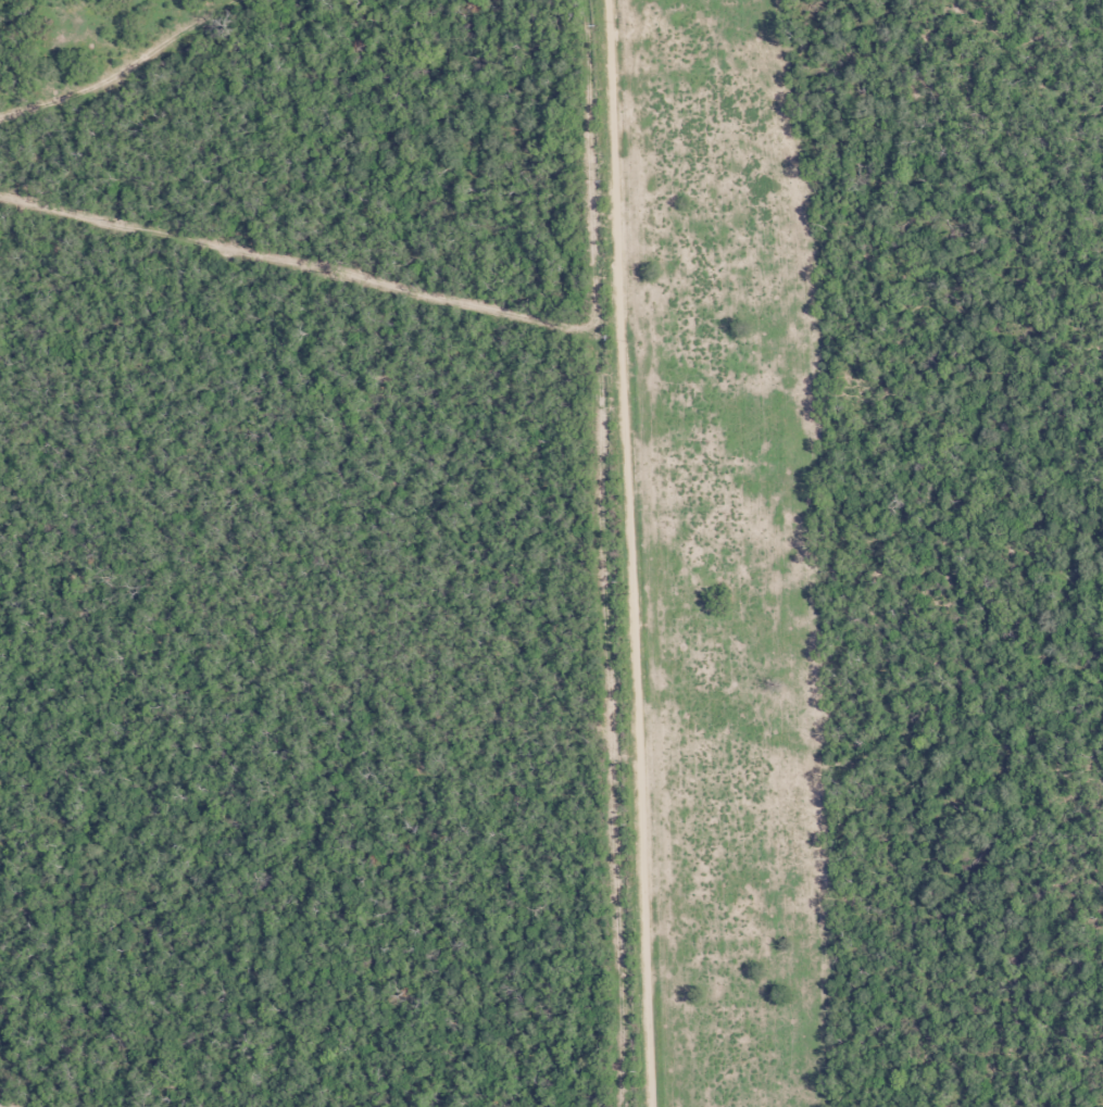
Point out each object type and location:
road: (626, 553)

